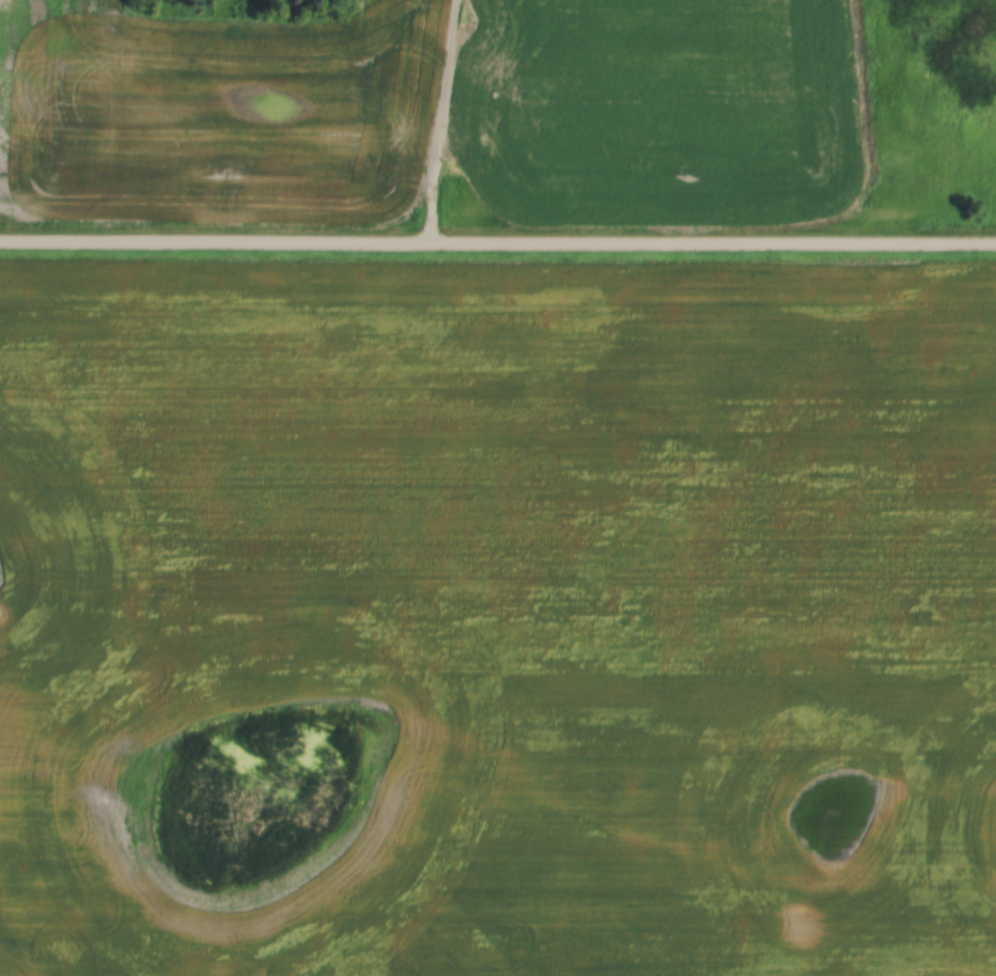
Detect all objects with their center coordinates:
road: (441, 120)
road: (498, 242)

